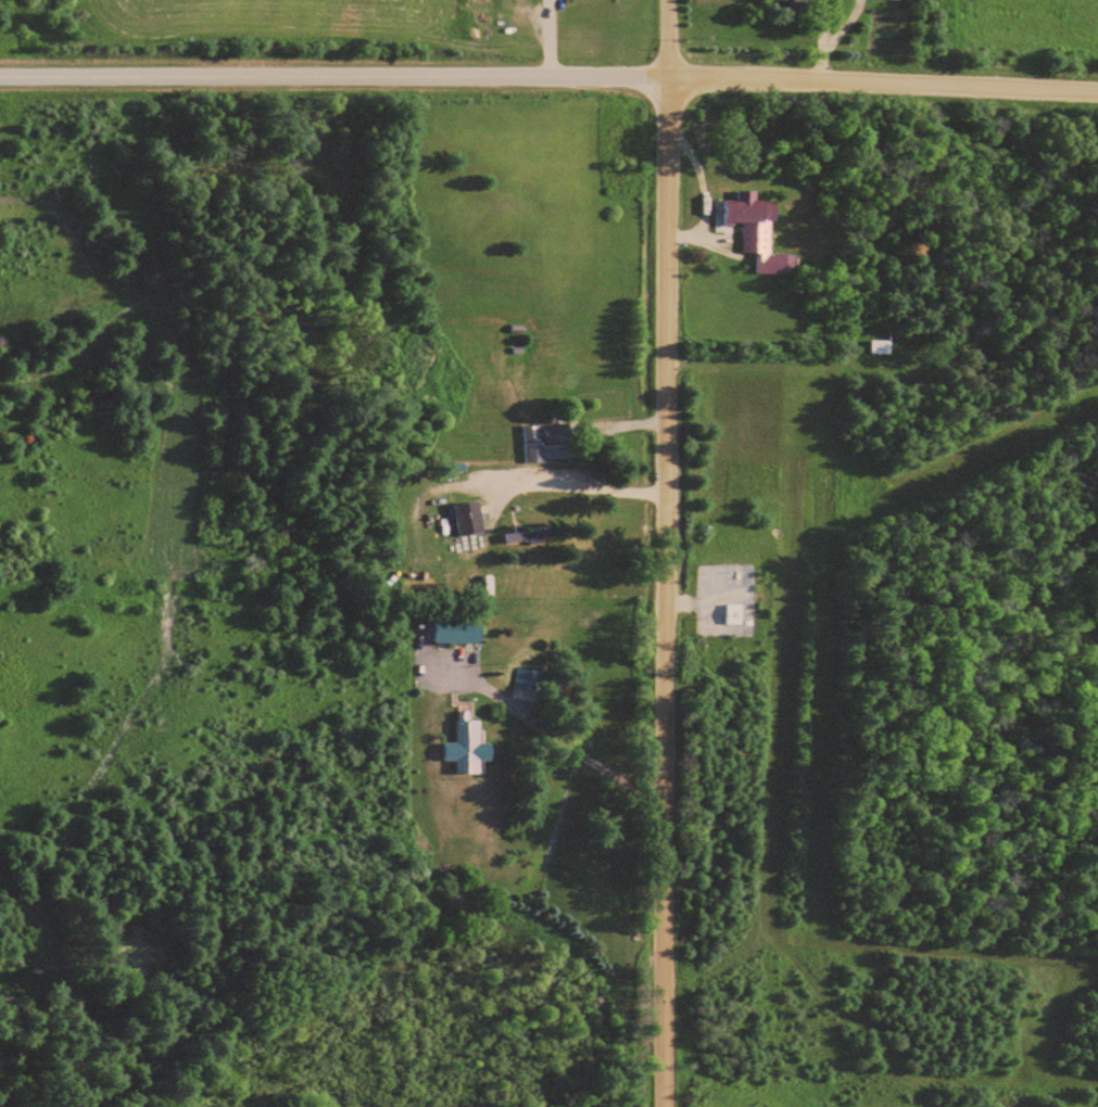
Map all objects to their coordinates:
building: (807, 1)
road: (819, 23)
road: (838, 24)
road: (819, 63)
road: (548, 75)
building: (756, 229)
building: (882, 346)
building: (544, 438)
building: (468, 518)
road: (665, 552)
building: (734, 614)
building: (460, 629)
building: (528, 678)
building: (469, 747)

